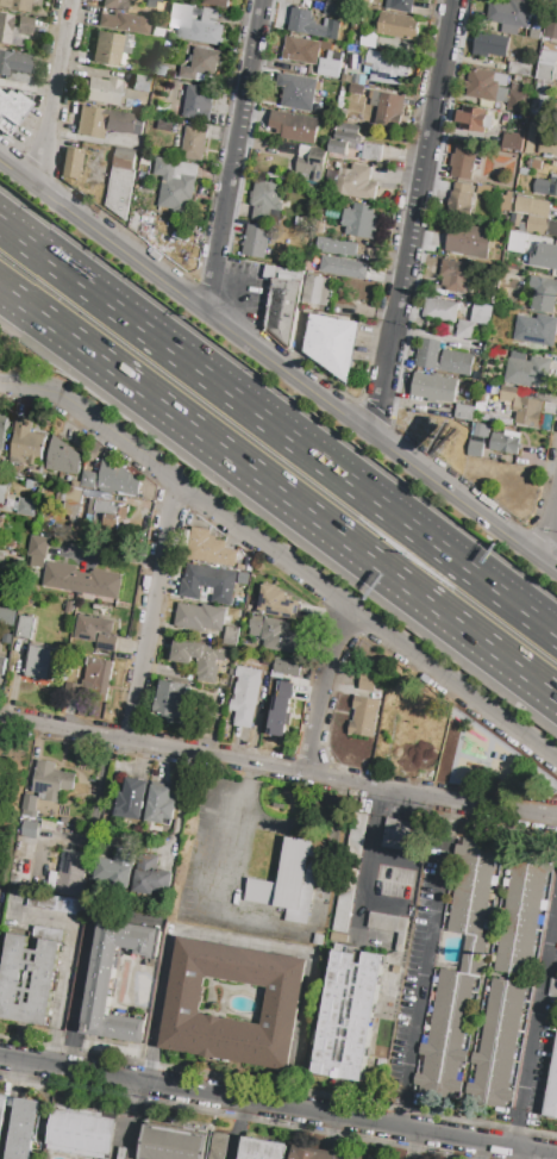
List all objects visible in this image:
building: (217, 2)
building: (112, 4)
building: (15, 5)
building: (402, 5)
building: (333, 10)
building: (509, 15)
building: (124, 21)
building: (306, 24)
building: (193, 25)
building: (399, 26)
building: (13, 29)
building: (551, 29)
building: (490, 45)
building: (111, 48)
building: (298, 51)
building: (14, 64)
building: (546, 64)
building: (330, 66)
building: (202, 67)
building: (387, 69)
building: (520, 69)
building: (142, 82)
building: (484, 85)
road: (56, 89)
building: (102, 89)
building: (300, 92)
building: (518, 99)
building: (193, 102)
building: (11, 110)
building: (389, 110)
building: (468, 117)
building: (107, 121)
building: (294, 126)
building: (344, 138)
building: (531, 138)
building: (513, 141)
building: (547, 141)
building: (194, 144)
building: (373, 151)
road: (232, 152)
building: (70, 162)
building: (463, 162)
building: (311, 163)
building: (121, 181)
building: (175, 182)
building: (356, 183)
building: (545, 188)
building: (461, 200)
building: (267, 201)
building: (533, 213)
road: (414, 218)
building: (361, 222)
building: (515, 222)
building: (552, 229)
building: (468, 239)
building: (256, 242)
building: (517, 242)
building: (334, 248)
building: (544, 257)
building: (344, 267)
building: (456, 276)
building: (508, 281)
building: (317, 289)
road: (234, 291)
building: (544, 295)
building: (283, 301)
building: (444, 311)
building: (481, 313)
building: (464, 330)
building: (536, 330)
building: (332, 343)
building: (442, 357)
road: (276, 361)
building: (527, 372)
building: (433, 387)
road: (30, 388)
building: (521, 407)
building: (463, 412)
road: (275, 426)
building: (2, 429)
building: (480, 430)
building: (505, 442)
building: (26, 444)
building: (474, 449)
building: (64, 457)
building: (0, 460)
building: (114, 476)
building: (2, 488)
road: (278, 492)
building: (27, 507)
building: (0, 515)
building: (109, 516)
road: (551, 529)
building: (205, 547)
building: (38, 552)
building: (0, 562)
building: (1, 572)
road: (308, 578)
building: (85, 581)
building: (211, 582)
building: (276, 602)
building: (70, 606)
road: (154, 610)
building: (7, 616)
building: (200, 618)
building: (256, 622)
building: (26, 628)
building: (98, 631)
road: (553, 631)
road: (553, 633)
building: (278, 637)
building: (201, 659)
building: (39, 662)
building: (268, 663)
building: (2, 666)
building: (290, 666)
building: (92, 680)
building: (368, 684)
road: (326, 687)
building: (271, 692)
building: (244, 696)
building: (170, 699)
building: (278, 709)
building: (363, 717)
road: (277, 764)
building: (54, 781)
building: (131, 799)
building: (162, 804)
building: (30, 806)
building: (30, 829)
building: (49, 830)
building: (401, 835)
road: (367, 859)
building: (117, 868)
building: (350, 871)
building: (71, 873)
road: (219, 873)
building: (152, 877)
building: (19, 878)
building: (289, 881)
building: (472, 897)
building: (56, 904)
building: (521, 916)
building: (389, 927)
road: (243, 943)
road: (421, 974)
building: (29, 979)
building: (99, 986)
building: (552, 989)
building: (282, 1001)
road: (57, 1015)
building: (349, 1017)
road: (533, 1023)
building: (445, 1034)
building: (497, 1045)
building: (552, 1091)
road: (277, 1108)
building: (2, 1110)
building: (23, 1129)
building: (82, 1134)
building: (171, 1145)
building: (215, 1146)
building: (262, 1149)
building: (120, 1153)
building: (130, 1153)
building: (315, 1155)

